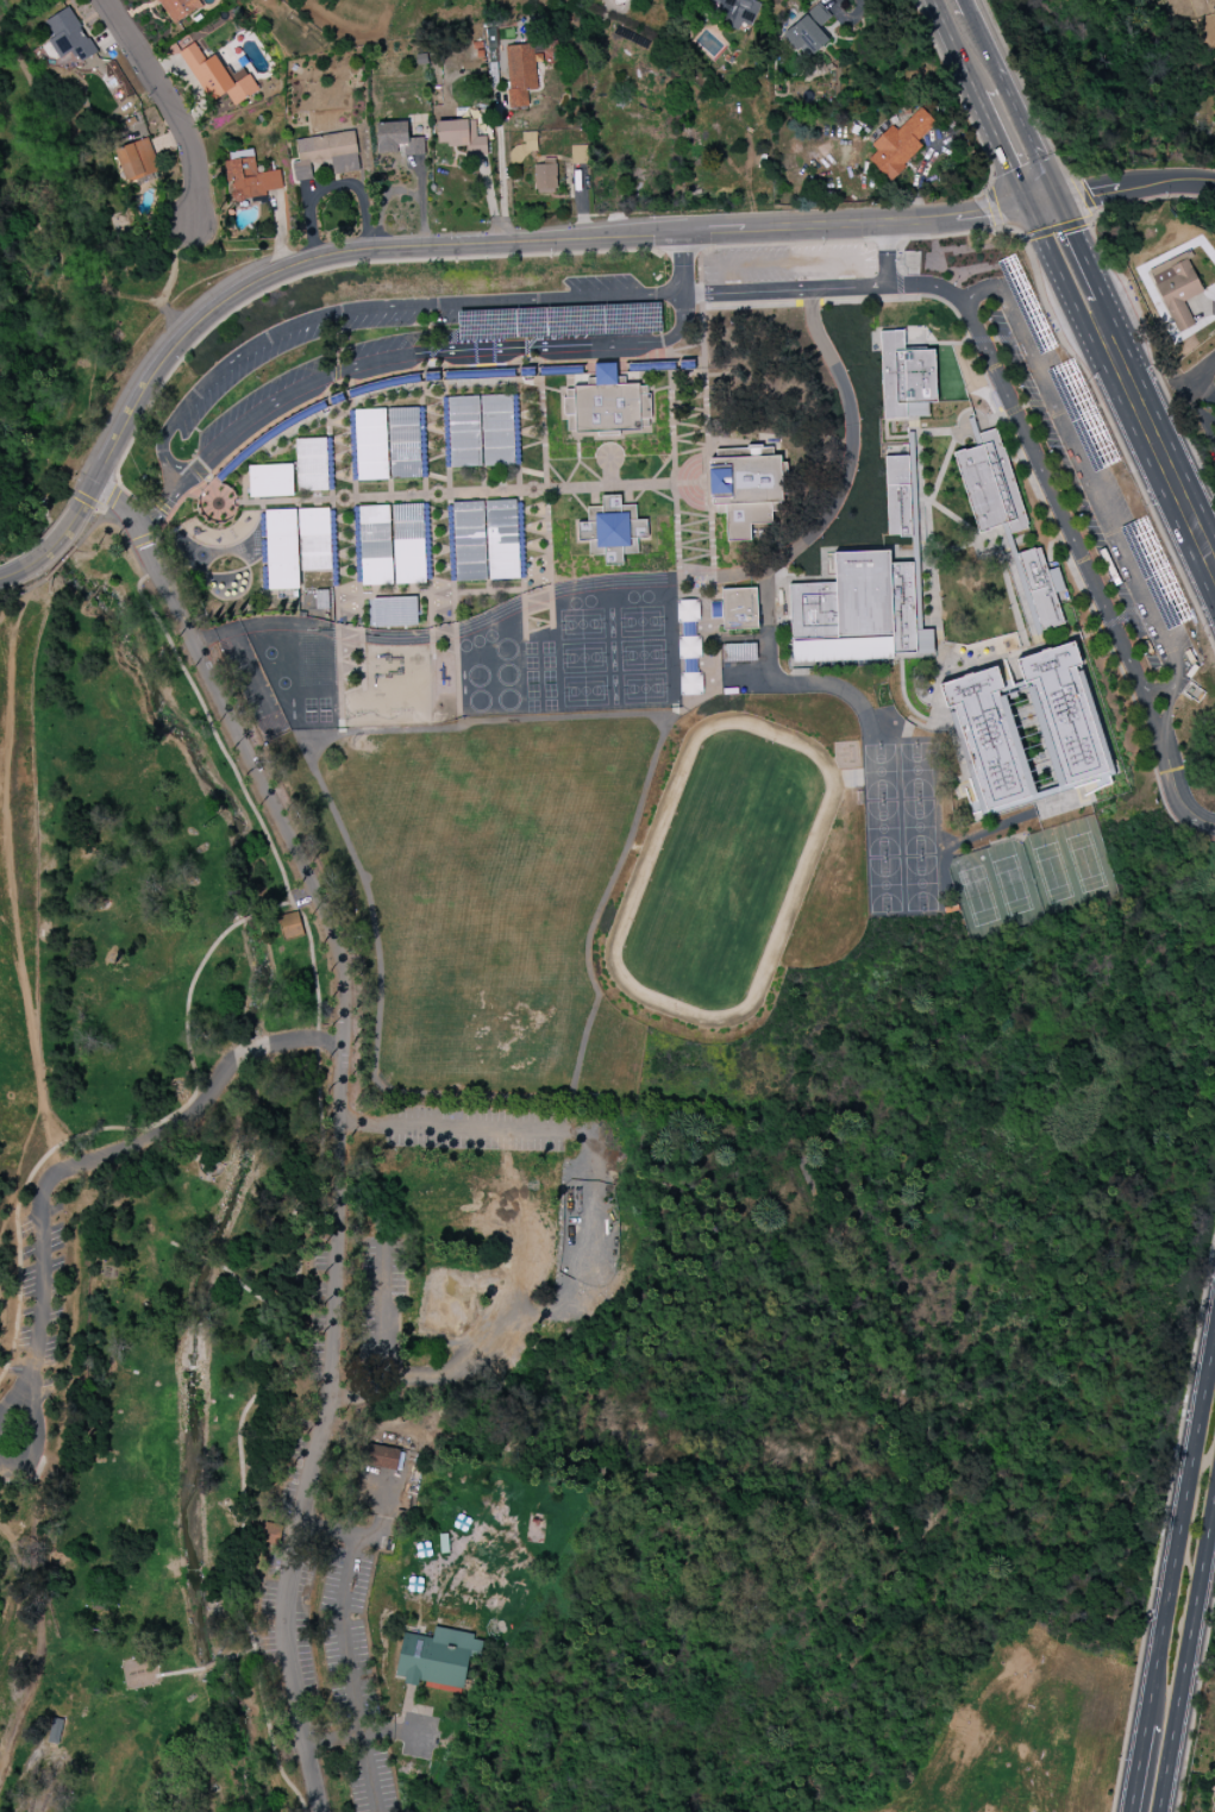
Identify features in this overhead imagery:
road: (965, 5)
building: (177, 8)
building: (739, 10)
building: (809, 31)
building: (69, 36)
road: (957, 48)
building: (525, 69)
building: (218, 76)
road: (1028, 92)
road: (958, 93)
road: (170, 105)
road: (1015, 105)
building: (462, 136)
building: (397, 139)
building: (900, 144)
building: (522, 148)
road: (1001, 151)
building: (326, 153)
building: (578, 155)
building: (137, 161)
building: (249, 177)
road: (505, 177)
building: (545, 177)
road: (1121, 192)
road: (1086, 197)
road: (49, 202)
road: (994, 207)
road: (1060, 228)
park: (83, 242)
road: (725, 246)
road: (439, 249)
road: (1078, 250)
road: (885, 256)
road: (684, 263)
road: (1057, 269)
building: (1176, 289)
road: (377, 306)
road: (1100, 309)
road: (432, 351)
road: (1150, 356)
building: (906, 377)
road: (1195, 378)
road: (1006, 388)
road: (118, 405)
building: (481, 431)
building: (370, 444)
road: (1157, 445)
building: (311, 464)
road: (1083, 470)
building: (270, 481)
building: (989, 484)
building: (744, 491)
parking lot: (1097, 491)
building: (897, 496)
road: (114, 497)
road: (86, 501)
road: (164, 506)
road: (162, 508)
road: (167, 525)
road: (815, 534)
building: (314, 539)
road: (144, 540)
building: (486, 540)
building: (375, 545)
building: (281, 550)
building: (1035, 584)
building: (739, 608)
building: (923, 641)
building: (689, 647)
building: (690, 684)
road: (1164, 686)
road: (1169, 706)
building: (1066, 709)
building: (988, 739)
road: (1176, 789)
road: (2, 815)
road: (282, 905)
road: (263, 913)
building: (292, 926)
road: (331, 926)
road: (318, 1040)
road: (276, 1043)
road: (109, 1128)
road: (452, 1128)
road: (155, 1137)
road: (322, 1147)
road: (43, 1292)
road: (381, 1299)
park: (496, 1380)
road: (32, 1407)
road: (394, 1435)
building: (381, 1456)
road: (1164, 1525)
building: (273, 1529)
road: (1179, 1530)
road: (370, 1536)
road: (39, 1557)
road: (286, 1617)
road: (12, 1635)
road: (1186, 1654)
road: (236, 1656)
building: (438, 1657)
road: (212, 1666)
road: (183, 1672)
road: (350, 1673)
road: (981, 1673)
road: (1196, 1705)
road: (17, 1718)
building: (56, 1731)
road: (400, 1732)
road: (333, 1741)
road: (1136, 1769)

